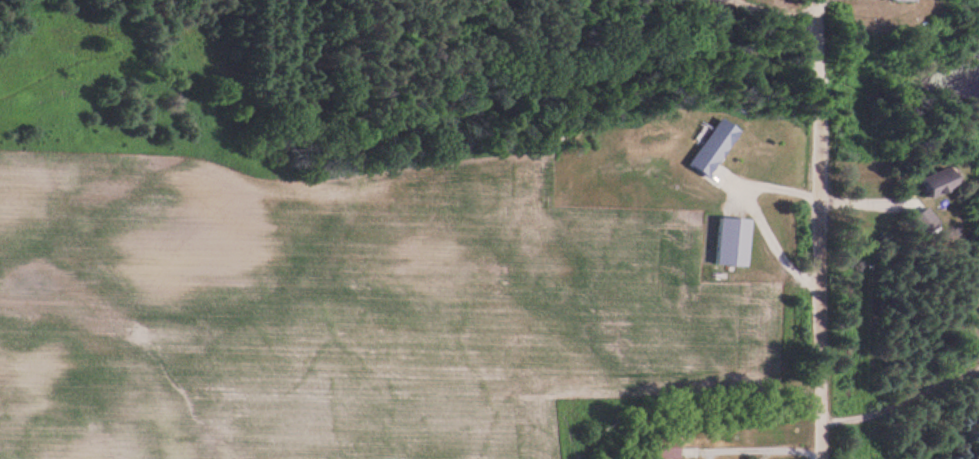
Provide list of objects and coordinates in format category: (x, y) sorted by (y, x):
building: (710, 145)
building: (921, 180)
building: (916, 219)
road: (818, 229)
building: (662, 446)

